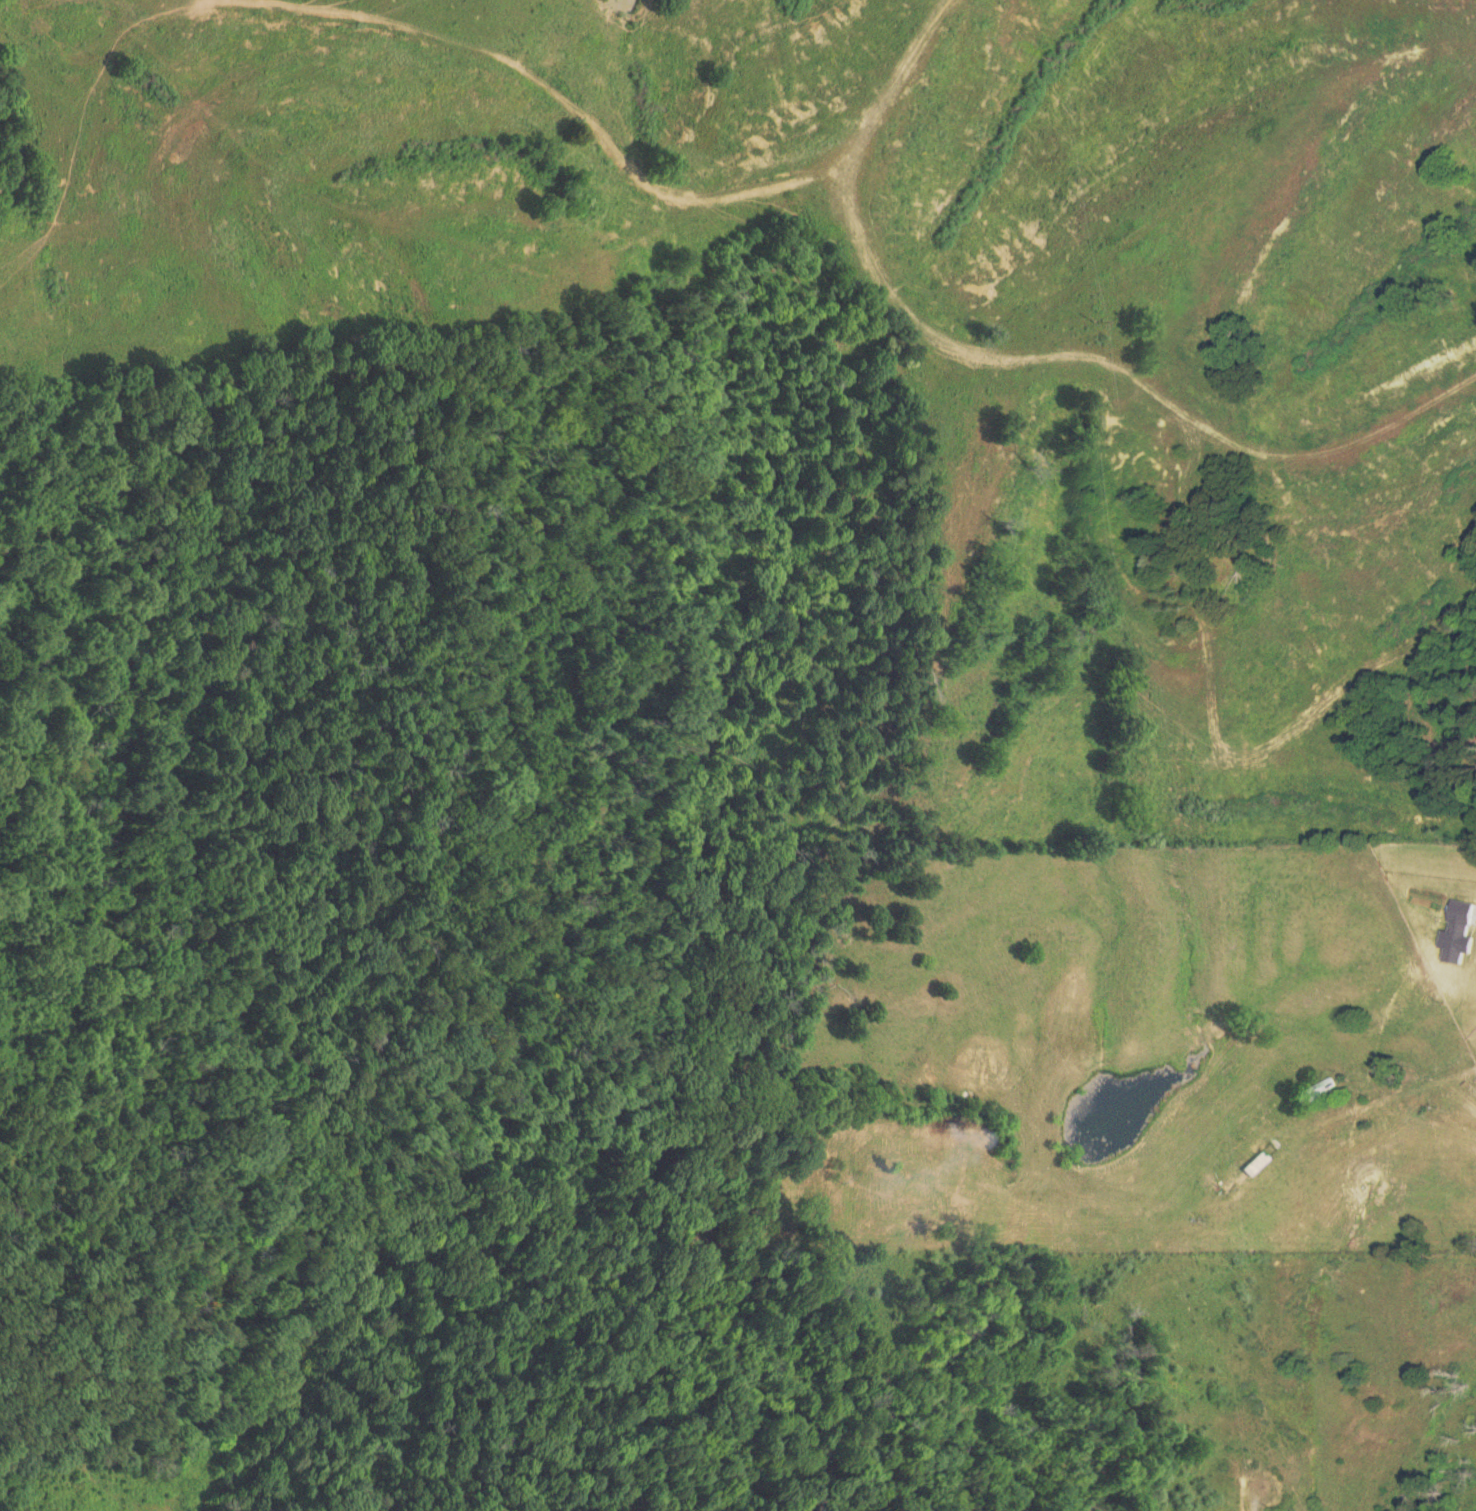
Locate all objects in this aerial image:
building: (1322, 1089)
building: (1259, 1161)

